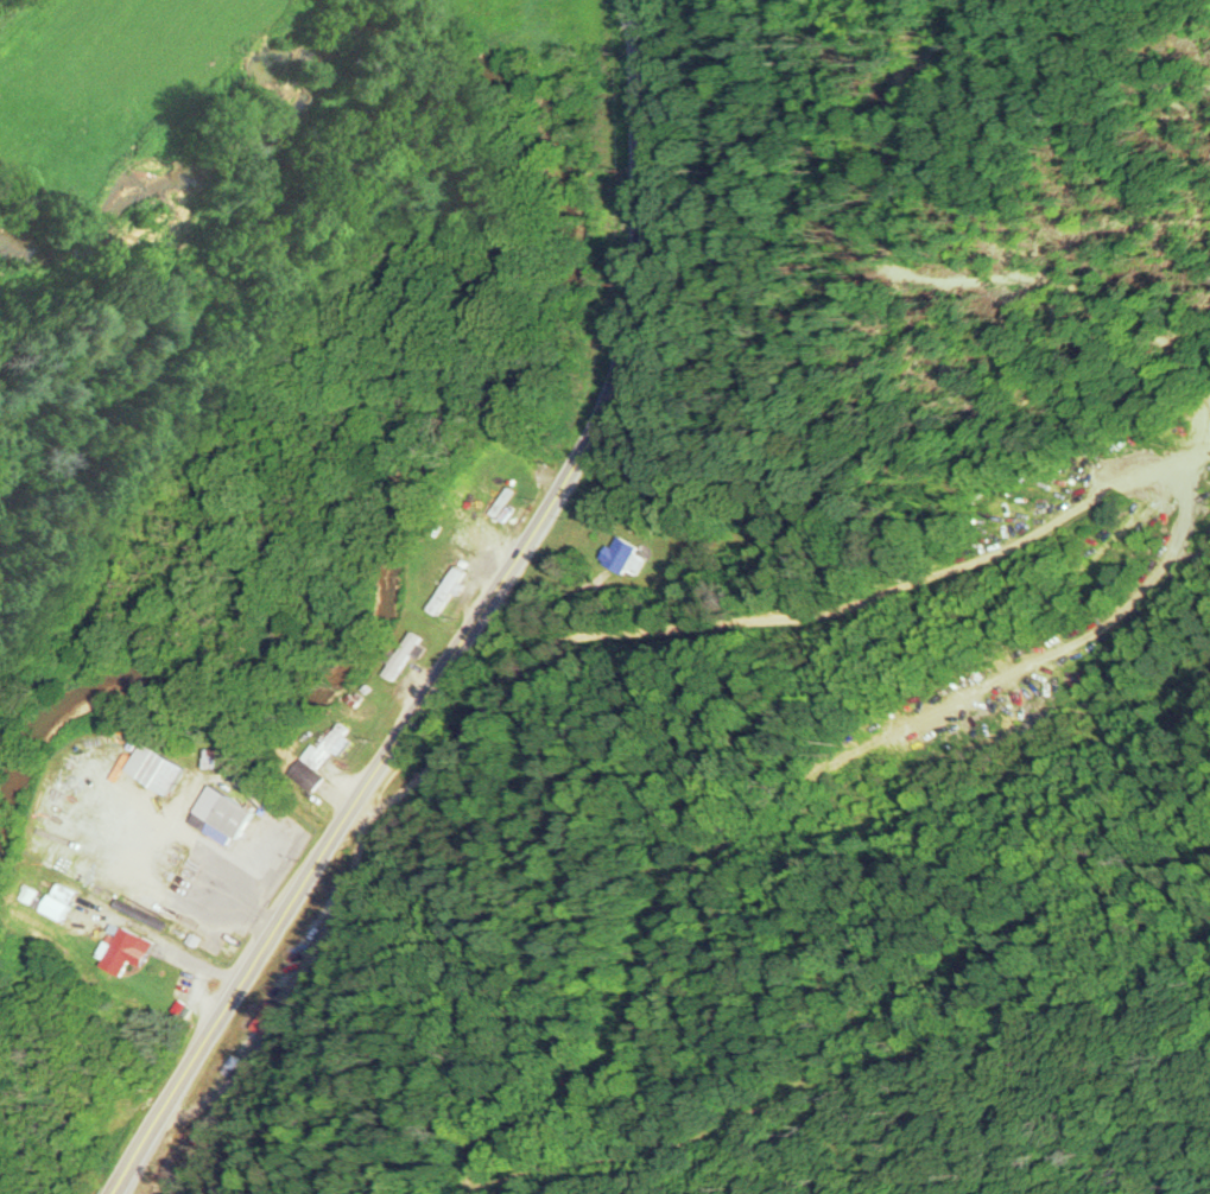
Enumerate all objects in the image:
river: (569, 292)
road: (1040, 526)
building: (626, 558)
road: (471, 625)
building: (405, 656)
building: (331, 748)
building: (227, 758)
building: (160, 769)
building: (224, 815)
building: (64, 901)
building: (128, 950)

